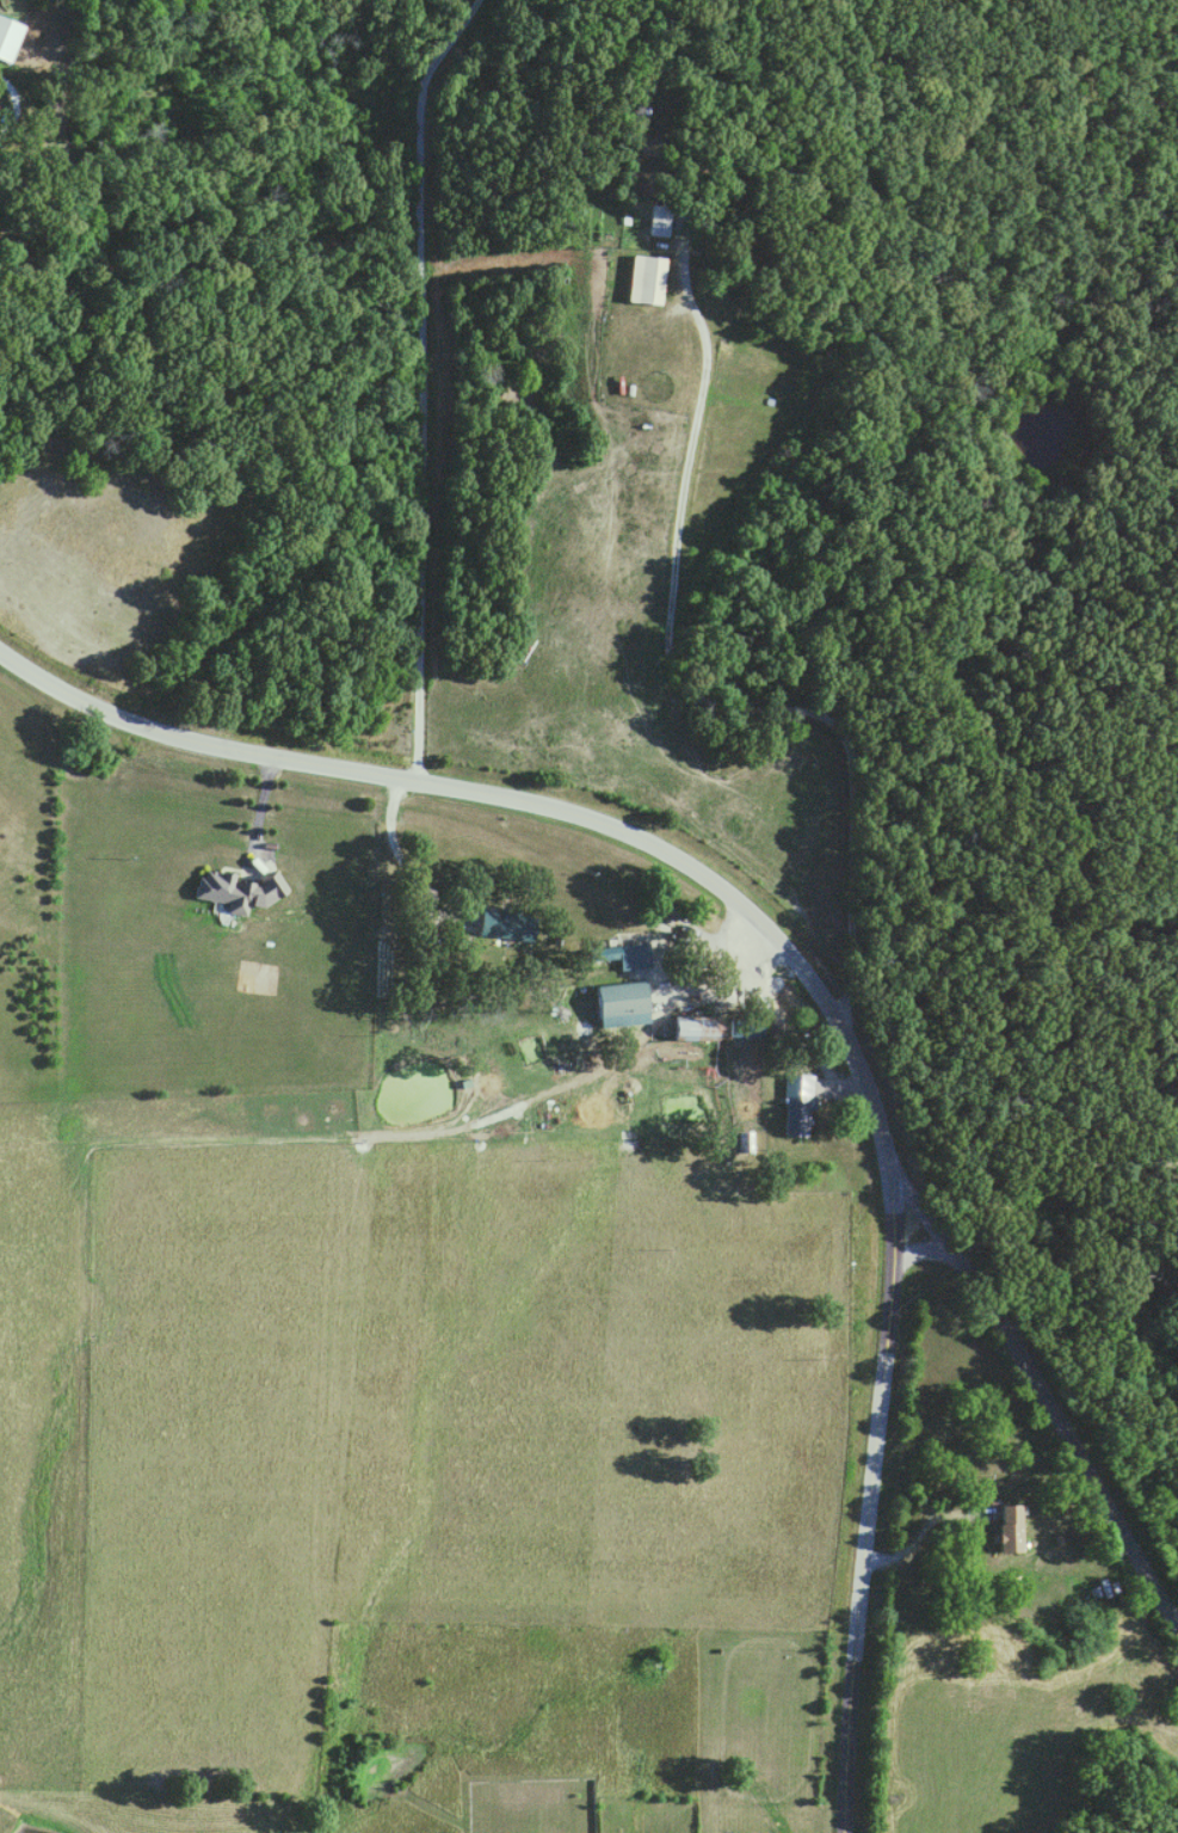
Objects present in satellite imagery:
building: (7, 42)
building: (655, 224)
building: (642, 281)
road: (415, 474)
road: (672, 688)
road: (255, 812)
building: (234, 891)
building: (498, 927)
building: (616, 957)
road: (797, 974)
road: (739, 989)
building: (615, 1004)
building: (684, 1027)
building: (794, 1107)
building: (746, 1143)
road: (1009, 1177)
road: (1047, 1422)
building: (1000, 1531)
road: (917, 1532)

